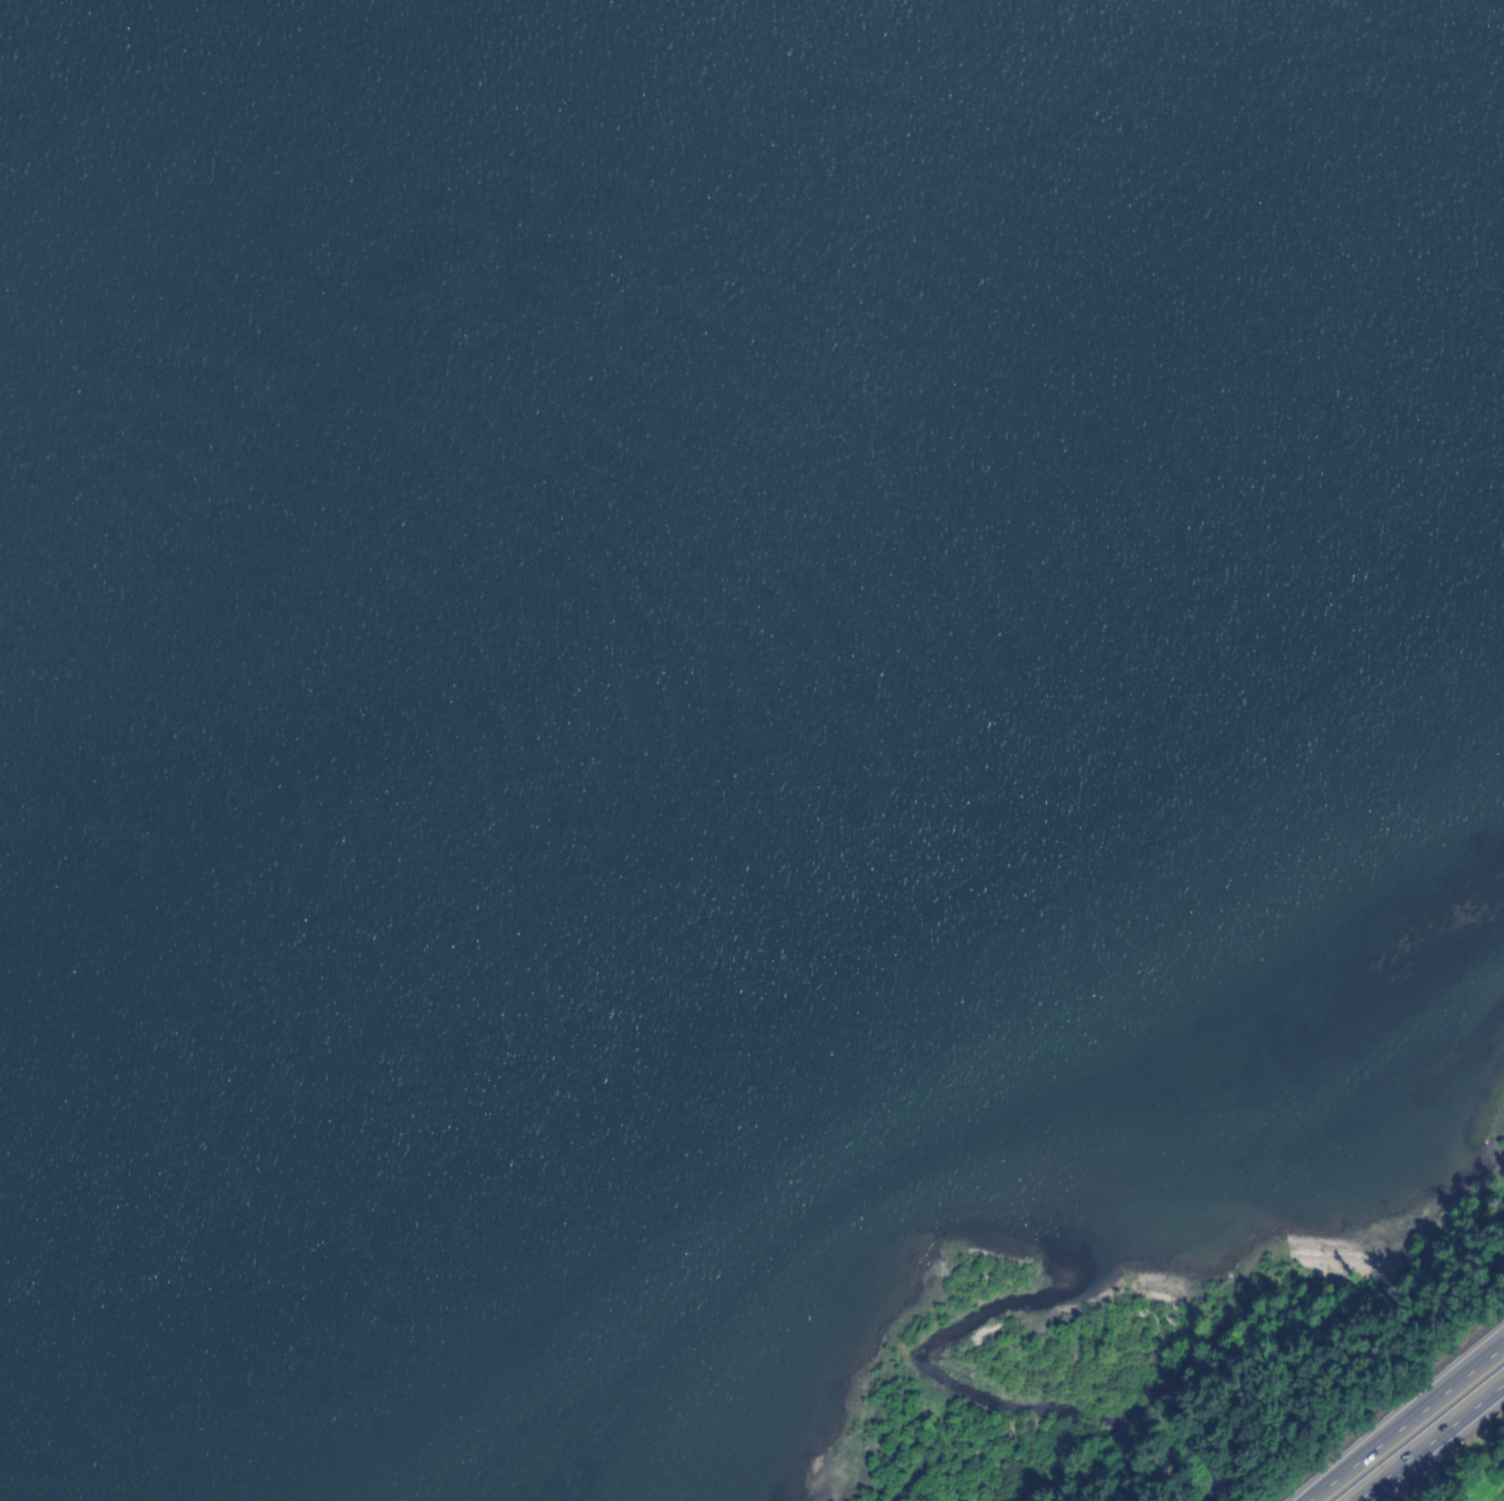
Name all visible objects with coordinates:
road: (1503, 1341)
road: (1403, 1421)
road: (1427, 1439)

